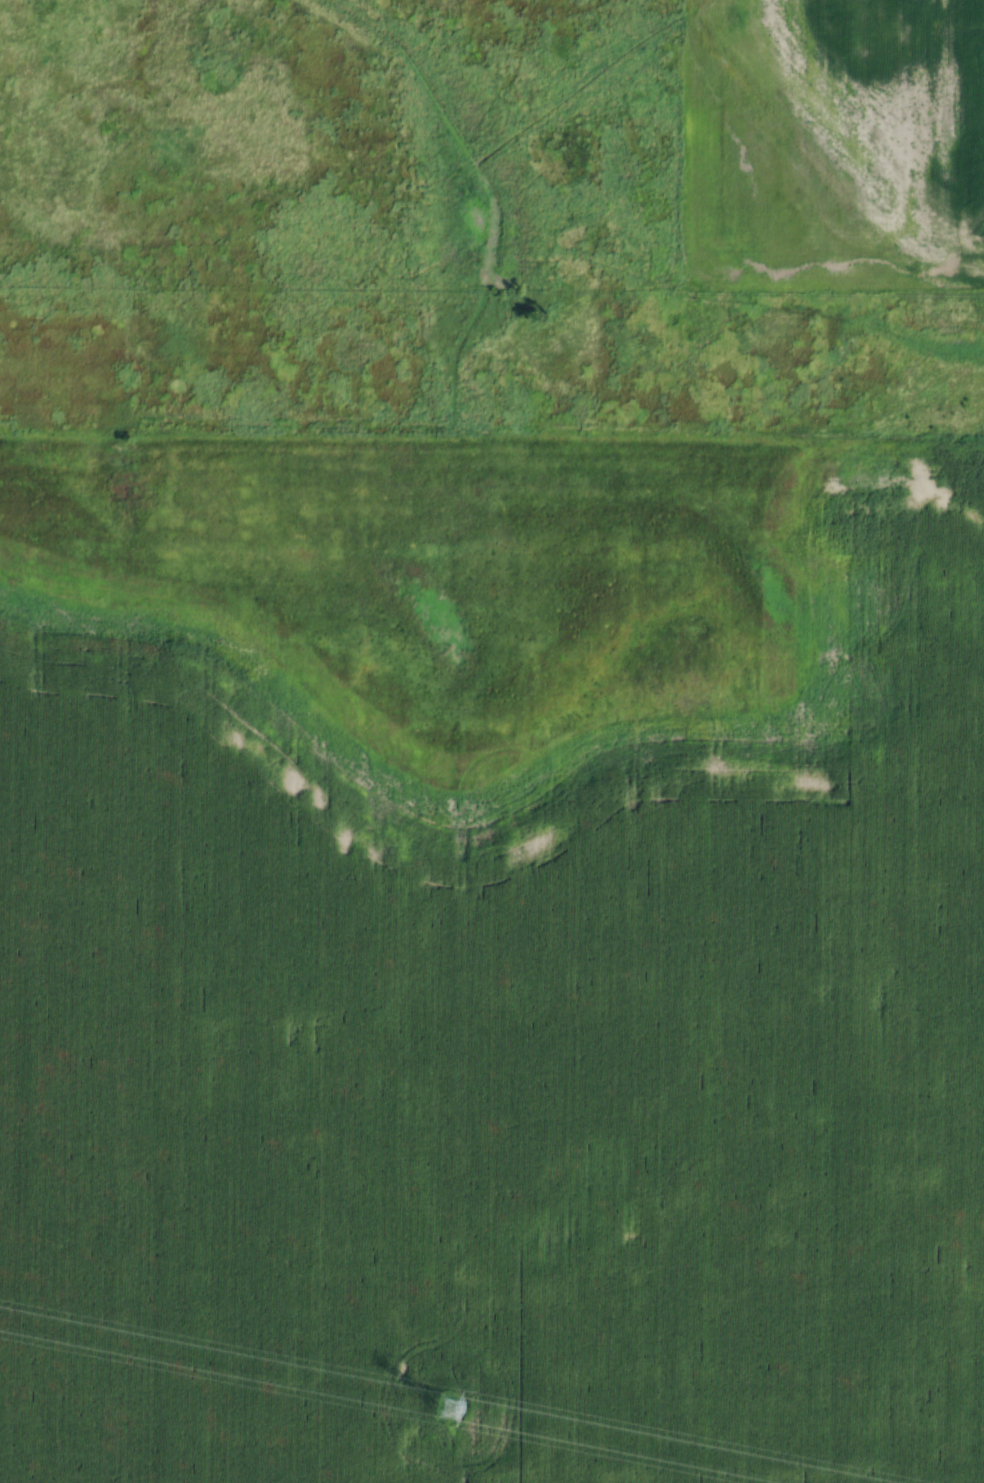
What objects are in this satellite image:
power tower: (457, 1392)

